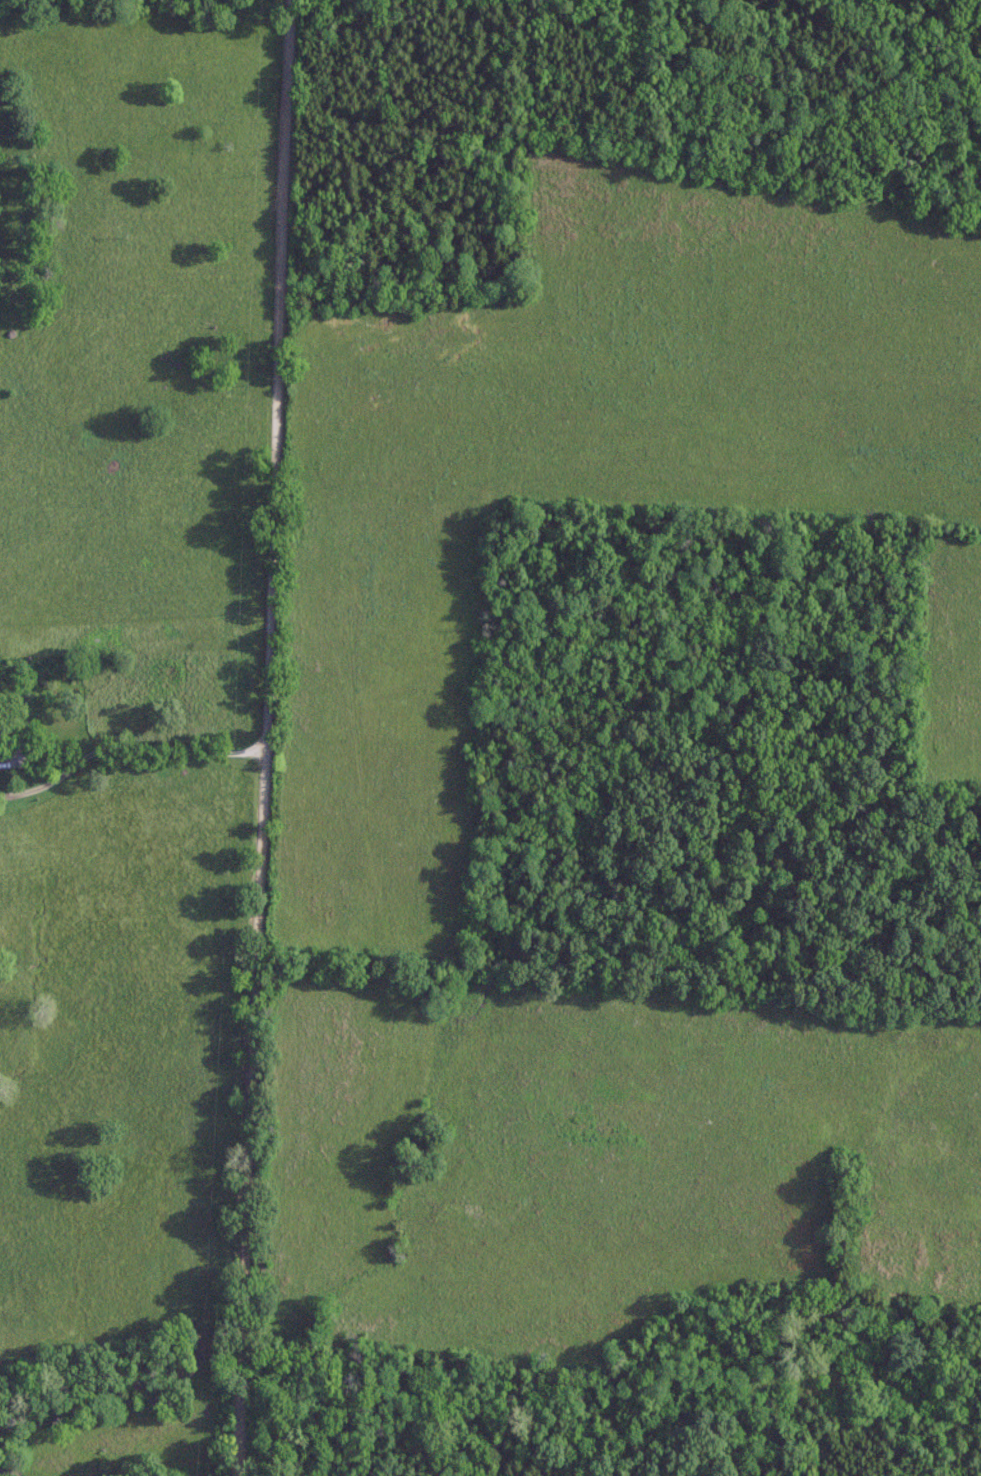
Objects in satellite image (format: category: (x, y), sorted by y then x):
road: (266, 738)
road: (128, 752)
road: (562, 938)

